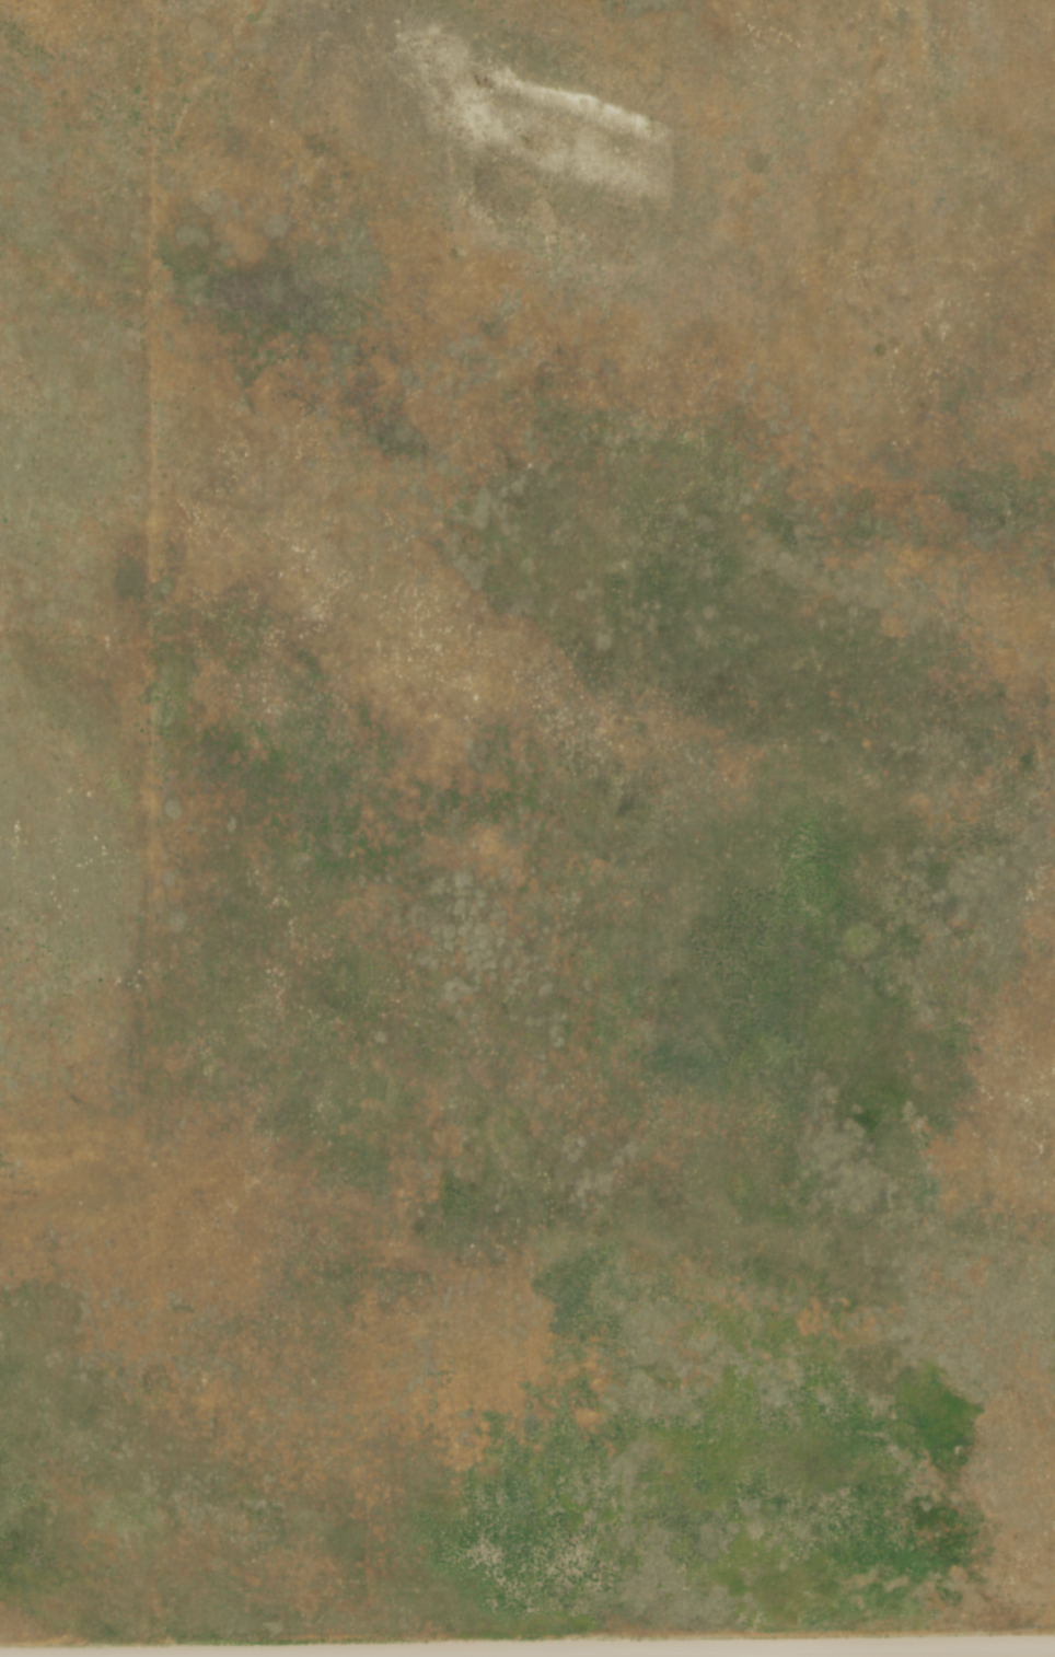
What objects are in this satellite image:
road: (738, 1653)

